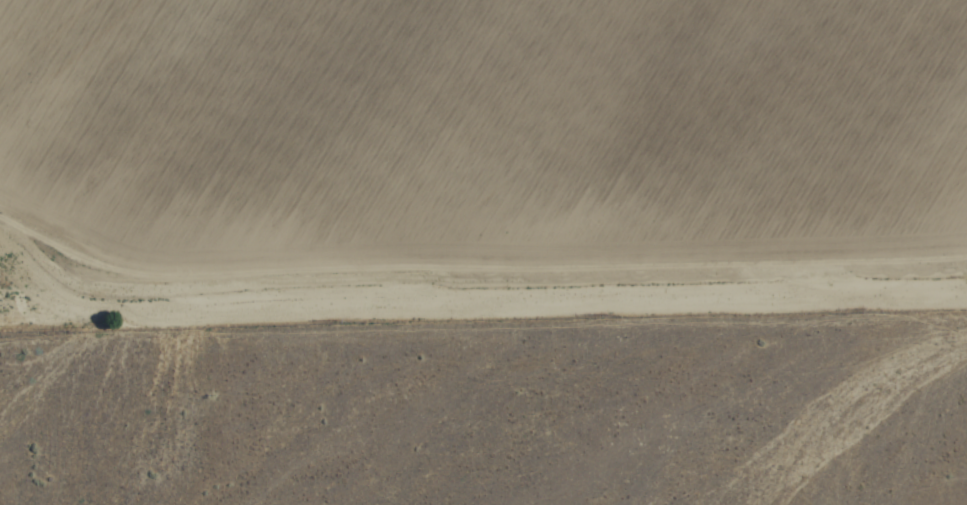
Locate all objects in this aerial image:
road: (464, 306)

